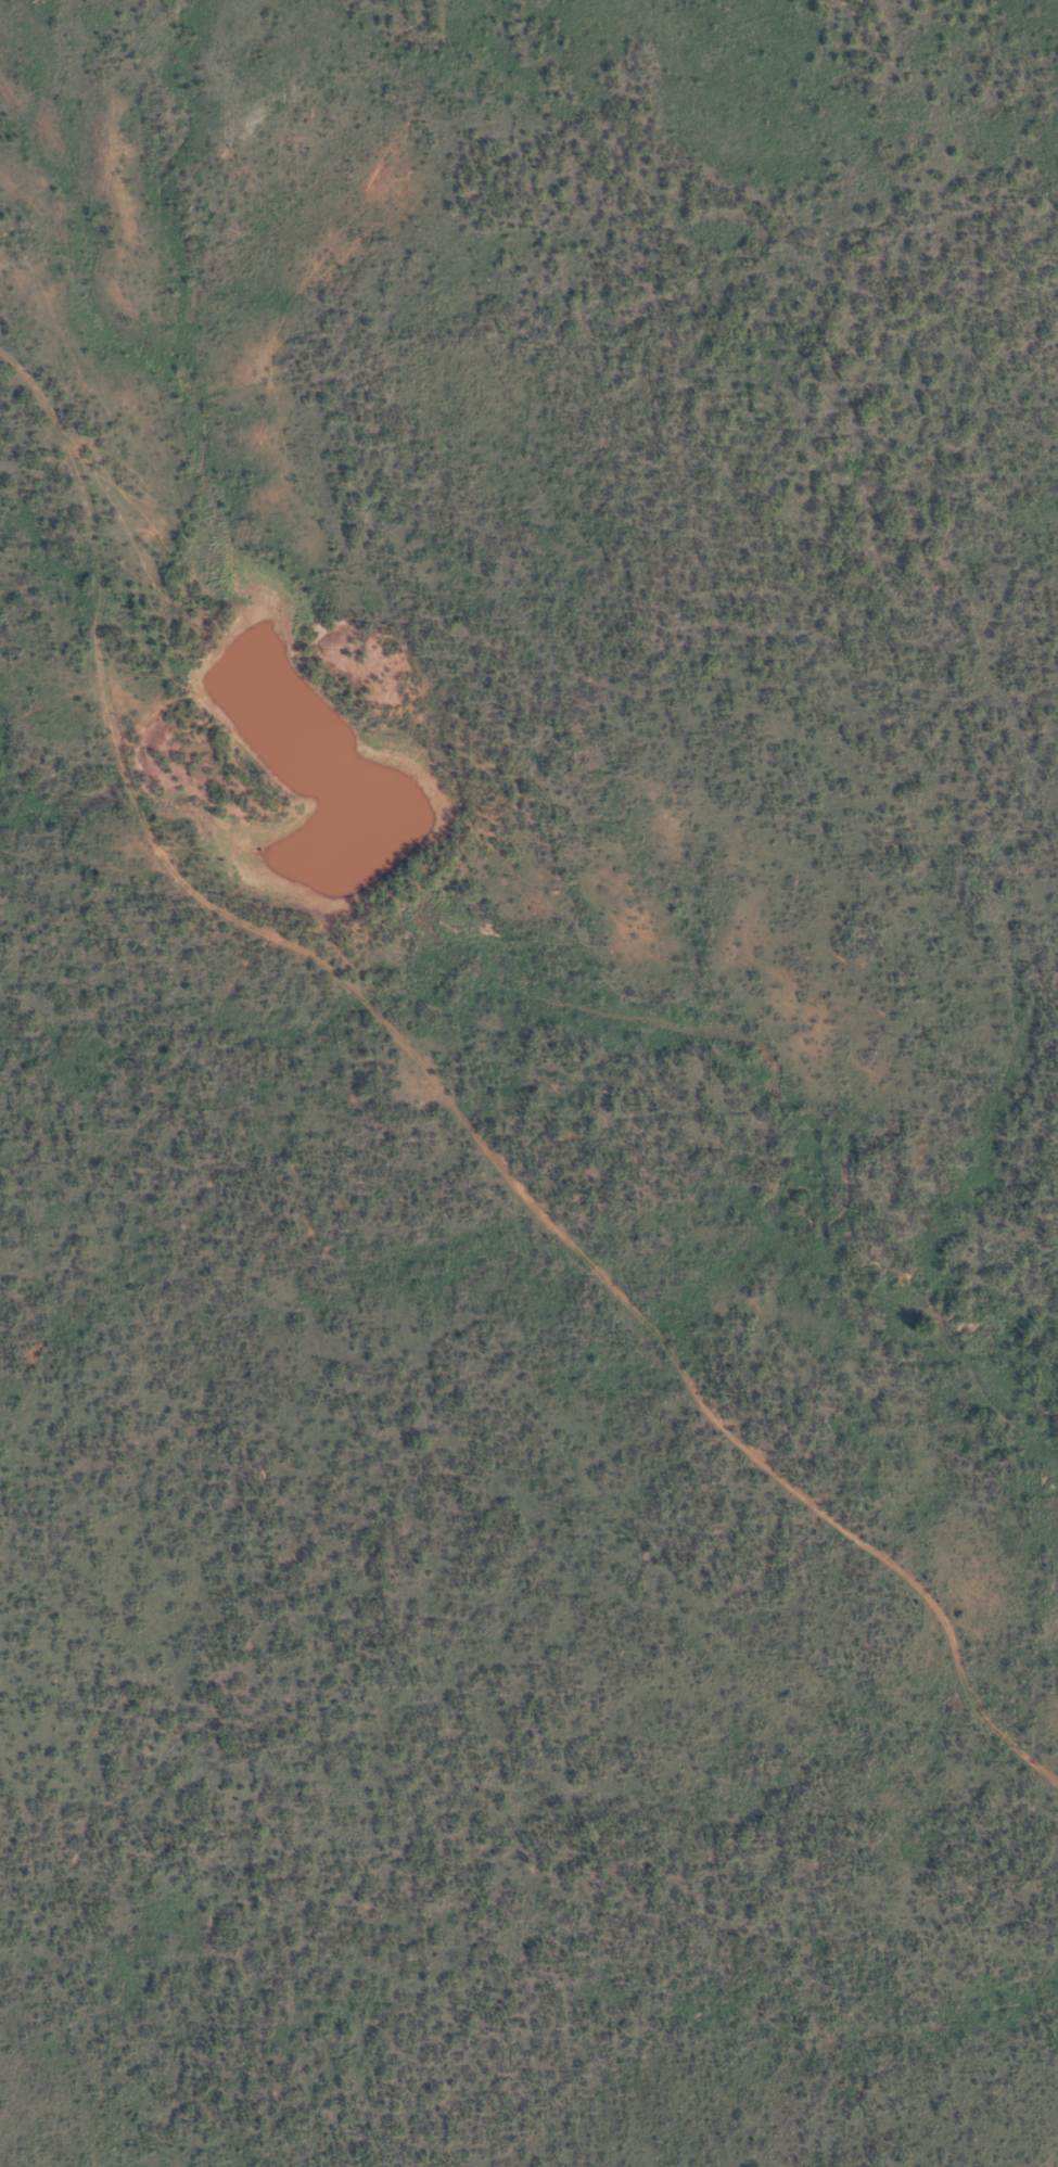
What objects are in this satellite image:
road: (452, 1118)

